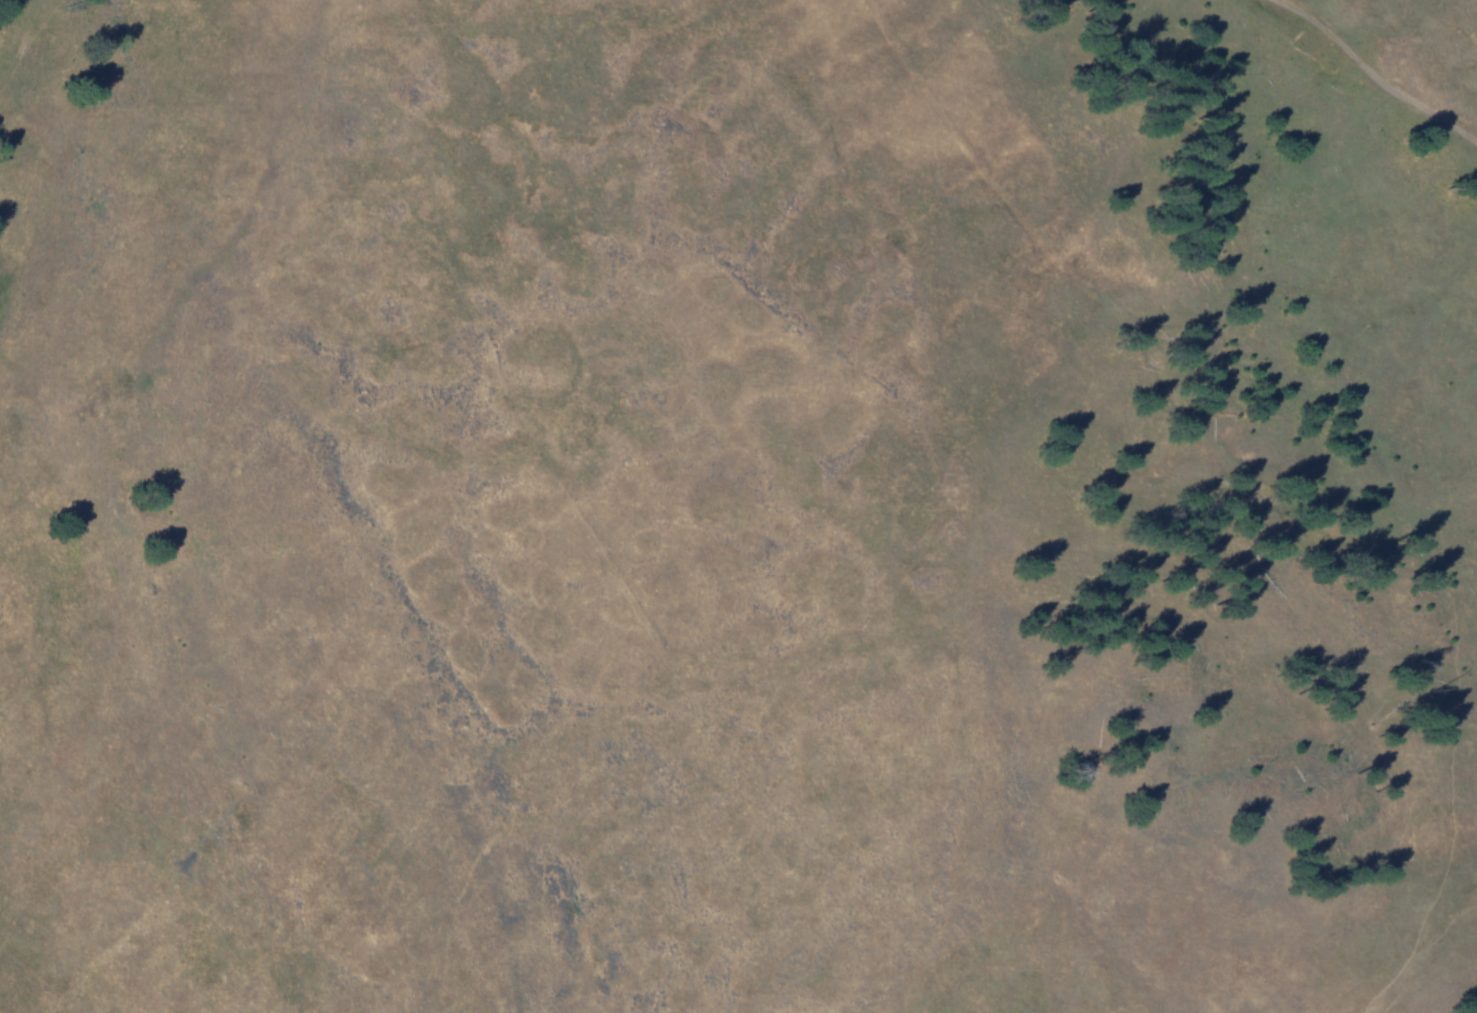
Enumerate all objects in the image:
road: (1331, 83)

